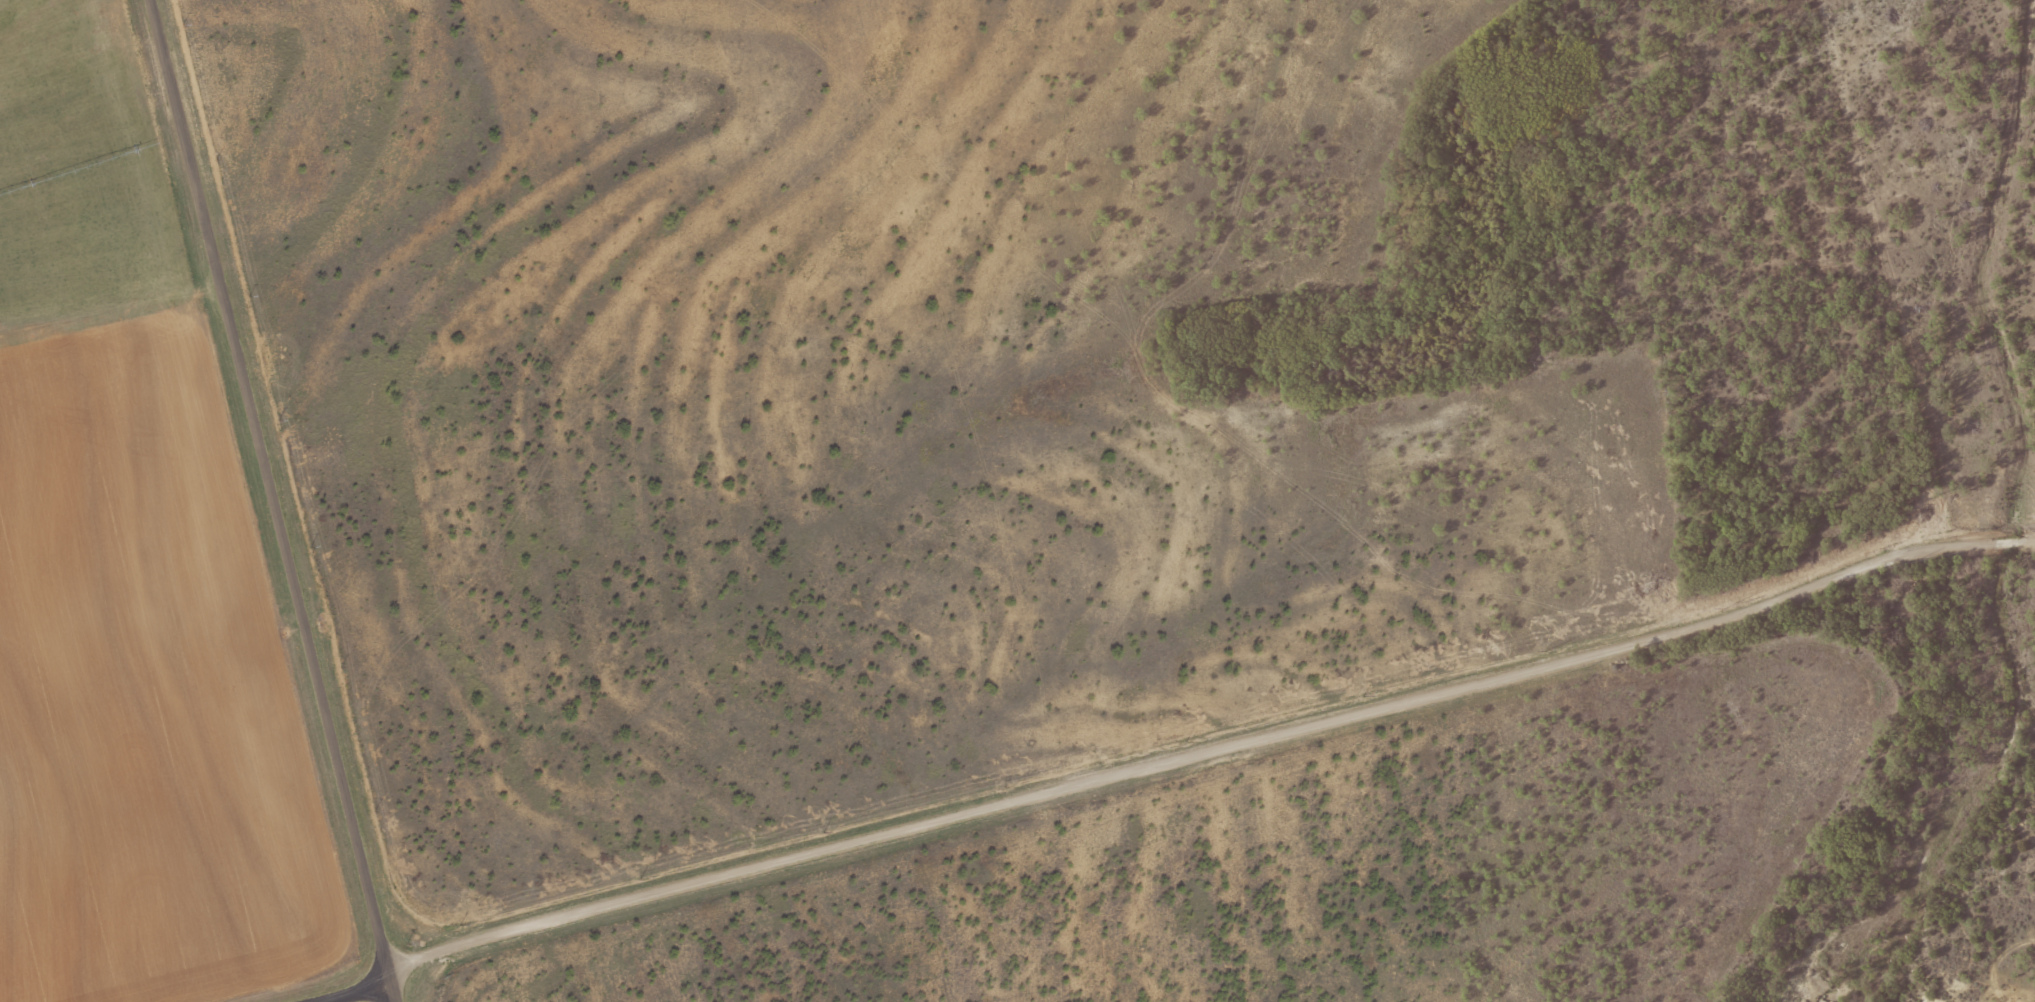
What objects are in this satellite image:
road: (277, 500)
road: (2012, 645)
road: (1211, 746)
road: (345, 988)

